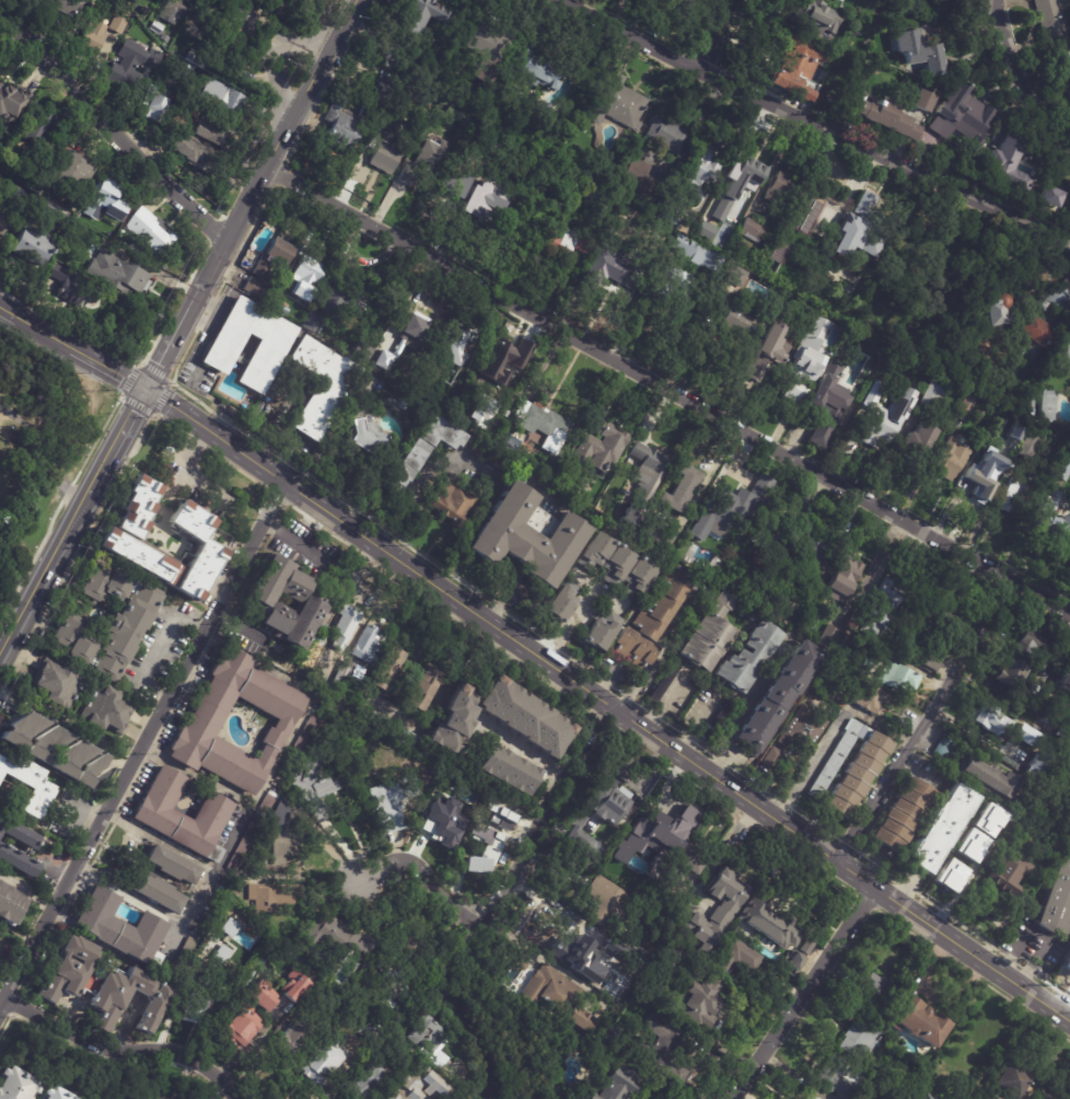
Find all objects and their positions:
building: (840, 0)
building: (686, 1)
building: (304, 3)
building: (62, 8)
building: (698, 8)
building: (144, 10)
building: (174, 10)
building: (818, 15)
road: (248, 16)
building: (419, 16)
building: (1049, 19)
building: (116, 24)
building: (155, 27)
road: (717, 34)
building: (216, 35)
building: (92, 38)
building: (487, 38)
building: (919, 51)
building: (196, 58)
building: (796, 63)
building: (130, 66)
building: (534, 69)
building: (182, 72)
building: (1065, 78)
road: (272, 80)
road: (311, 84)
road: (1023, 84)
building: (386, 89)
building: (222, 100)
building: (615, 102)
building: (922, 102)
building: (831, 103)
building: (150, 104)
building: (10, 107)
building: (963, 117)
building: (887, 118)
building: (177, 120)
road: (701, 120)
road: (816, 122)
building: (389, 124)
road: (113, 127)
building: (344, 127)
building: (42, 129)
building: (214, 135)
building: (666, 136)
building: (193, 153)
building: (386, 155)
building: (513, 162)
building: (1007, 164)
building: (423, 166)
building: (71, 171)
building: (547, 171)
building: (638, 176)
building: (700, 176)
building: (740, 182)
building: (782, 193)
building: (1050, 197)
building: (108, 200)
building: (439, 200)
building: (597, 200)
building: (867, 207)
building: (670, 211)
building: (53, 212)
building: (486, 216)
building: (1, 217)
building: (805, 218)
building: (705, 230)
building: (152, 231)
building: (752, 231)
building: (853, 241)
building: (35, 246)
building: (565, 246)
building: (778, 253)
building: (695, 254)
building: (272, 256)
building: (600, 271)
building: (57, 273)
building: (117, 273)
building: (305, 276)
building: (734, 276)
road: (206, 279)
building: (674, 285)
building: (257, 288)
building: (69, 290)
building: (339, 297)
building: (1054, 299)
building: (996, 311)
building: (307, 321)
building: (732, 322)
building: (405, 333)
building: (1036, 333)
building: (456, 340)
road: (73, 347)
building: (359, 347)
building: (267, 348)
building: (1065, 350)
building: (768, 356)
building: (807, 360)
building: (495, 361)
building: (968, 379)
building: (321, 384)
building: (365, 386)
traffic signals: (148, 390)
road: (667, 392)
building: (877, 393)
building: (931, 397)
parking lot: (4, 401)
building: (829, 402)
building: (1046, 407)
building: (967, 408)
building: (482, 412)
road: (272, 420)
building: (886, 421)
building: (543, 424)
building: (1001, 424)
building: (1014, 432)
building: (367, 433)
building: (920, 441)
building: (600, 443)
building: (1031, 446)
road: (44, 449)
building: (487, 453)
building: (951, 461)
building: (646, 464)
building: (1060, 467)
road: (186, 468)
park: (7, 470)
road: (708, 477)
building: (985, 481)
road: (416, 483)
building: (679, 487)
building: (646, 488)
building: (1015, 498)
building: (451, 501)
building: (725, 505)
building: (631, 512)
building: (1052, 521)
road: (73, 522)
building: (654, 533)
building: (525, 536)
building: (768, 537)
building: (117, 539)
building: (594, 551)
building: (789, 551)
building: (809, 560)
building: (616, 564)
building: (772, 570)
building: (637, 576)
road: (583, 578)
building: (844, 578)
building: (749, 593)
building: (400, 597)
building: (563, 600)
building: (313, 601)
building: (881, 606)
road: (578, 608)
building: (384, 613)
building: (652, 617)
building: (107, 622)
building: (345, 626)
building: (601, 631)
building: (322, 633)
building: (709, 633)
building: (828, 637)
building: (947, 640)
building: (1032, 643)
building: (369, 644)
road: (155, 647)
building: (870, 655)
building: (312, 656)
building: (748, 657)
building: (386, 669)
building: (344, 672)
building: (831, 672)
building: (1012, 673)
road: (614, 675)
building: (899, 676)
building: (473, 678)
building: (1066, 678)
building: (58, 682)
building: (665, 682)
road: (638, 687)
building: (423, 689)
building: (827, 690)
building: (777, 696)
building: (869, 696)
road: (607, 706)
building: (105, 707)
building: (725, 712)
building: (206, 717)
building: (522, 717)
building: (992, 718)
building: (1051, 719)
building: (451, 720)
road: (924, 721)
building: (387, 727)
road: (699, 727)
building: (21, 728)
building: (803, 729)
road: (976, 730)
building: (1025, 730)
building: (45, 742)
building: (943, 745)
building: (296, 748)
road: (143, 749)
road: (530, 751)
building: (70, 756)
building: (771, 757)
building: (1038, 765)
road: (810, 768)
building: (850, 768)
building: (91, 771)
building: (508, 771)
road: (194, 772)
building: (989, 778)
building: (28, 783)
building: (309, 783)
building: (393, 801)
building: (268, 802)
building: (945, 811)
building: (903, 814)
building: (182, 815)
building: (276, 815)
building: (988, 820)
building: (1009, 821)
building: (591, 823)
building: (442, 824)
building: (18, 834)
building: (656, 834)
road: (324, 843)
building: (1056, 847)
building: (974, 849)
building: (487, 853)
road: (722, 853)
building: (688, 860)
building: (16, 863)
building: (172, 866)
building: (629, 866)
building: (1009, 872)
building: (950, 875)
road: (421, 882)
road: (30, 890)
building: (156, 893)
building: (274, 896)
road: (491, 896)
building: (1057, 901)
building: (600, 902)
building: (9, 905)
building: (712, 912)
building: (770, 922)
building: (223, 923)
building: (119, 927)
building: (333, 939)
road: (524, 944)
building: (806, 947)
road: (1013, 949)
building: (594, 950)
building: (575, 956)
building: (183, 957)
building: (732, 958)
building: (218, 960)
building: (668, 960)
building: (794, 961)
road: (1033, 963)
building: (517, 964)
building: (68, 970)
building: (292, 986)
building: (393, 988)
road: (796, 991)
building: (872, 994)
building: (264, 996)
building: (104, 998)
building: (554, 998)
building: (195, 1000)
building: (697, 1004)
building: (916, 1021)
building: (240, 1029)
building: (370, 1031)
building: (428, 1039)
building: (859, 1040)
building: (290, 1041)
road: (130, 1049)
building: (658, 1051)
building: (322, 1061)
building: (839, 1077)
building: (1010, 1081)
building: (365, 1083)
building: (14, 1085)
building: (616, 1085)
building: (417, 1086)
road: (222, 1090)
building: (55, 1094)
building: (924, 1095)
building: (813, 1097)

